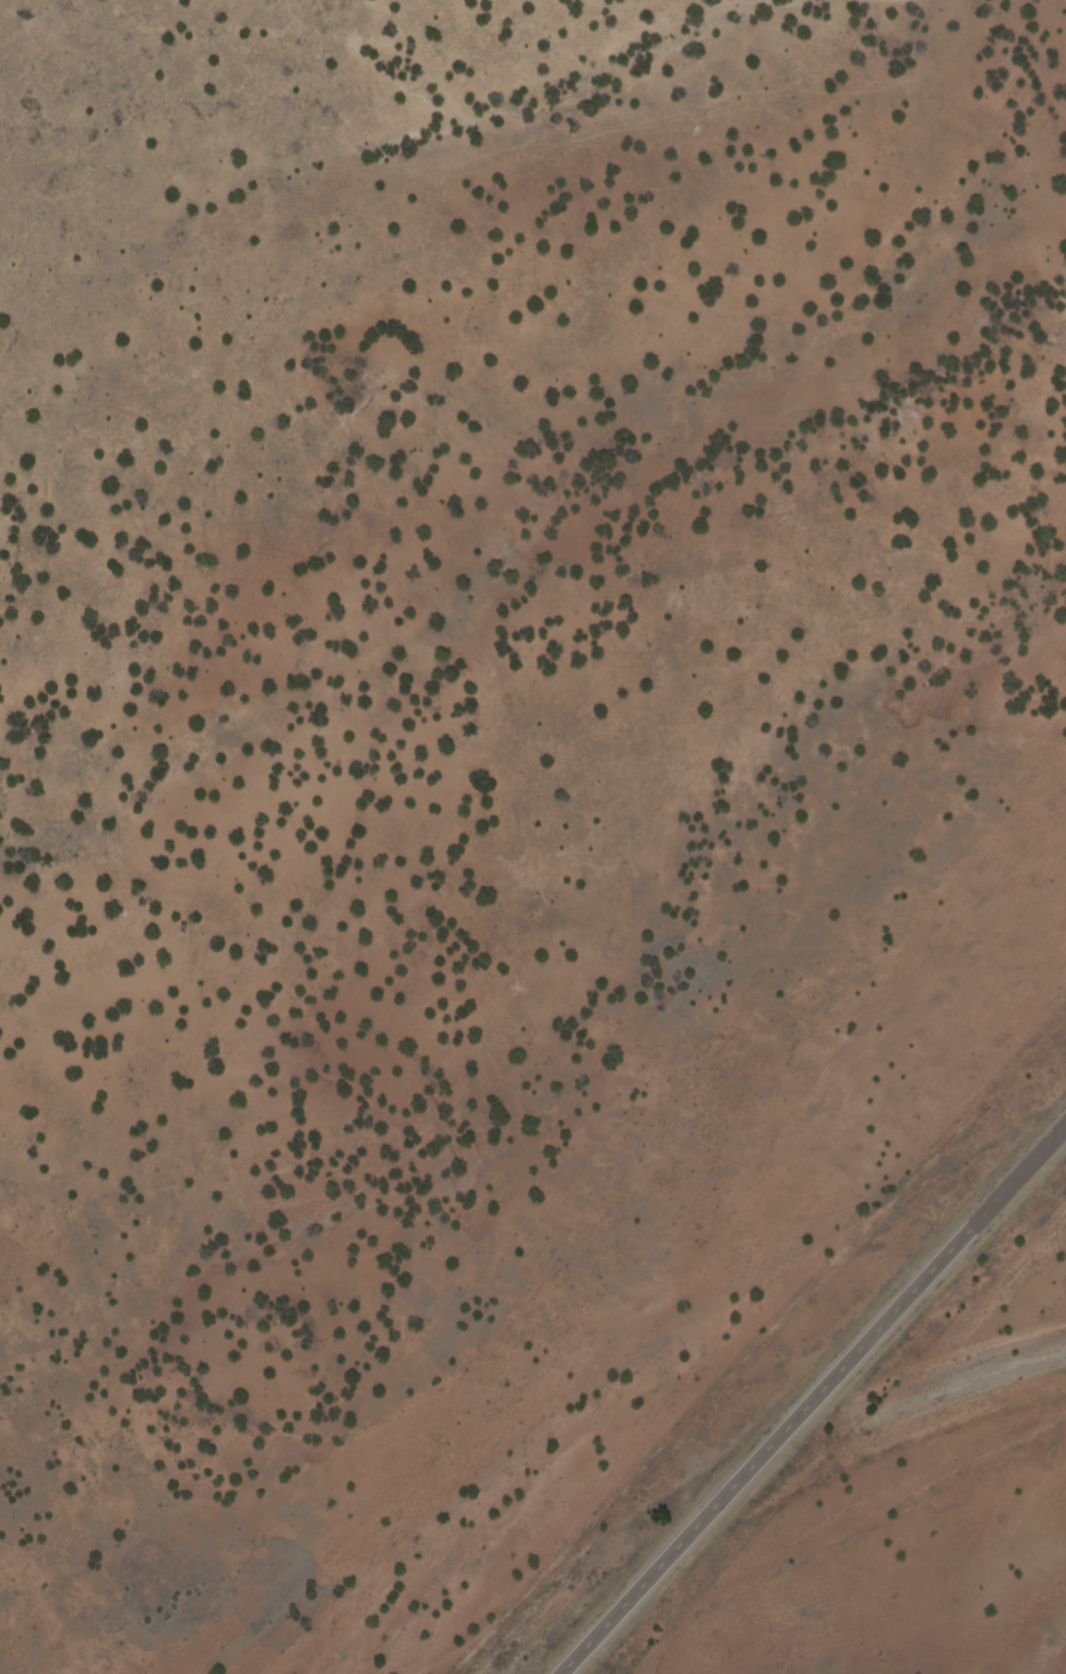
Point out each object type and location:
road: (813, 1398)

